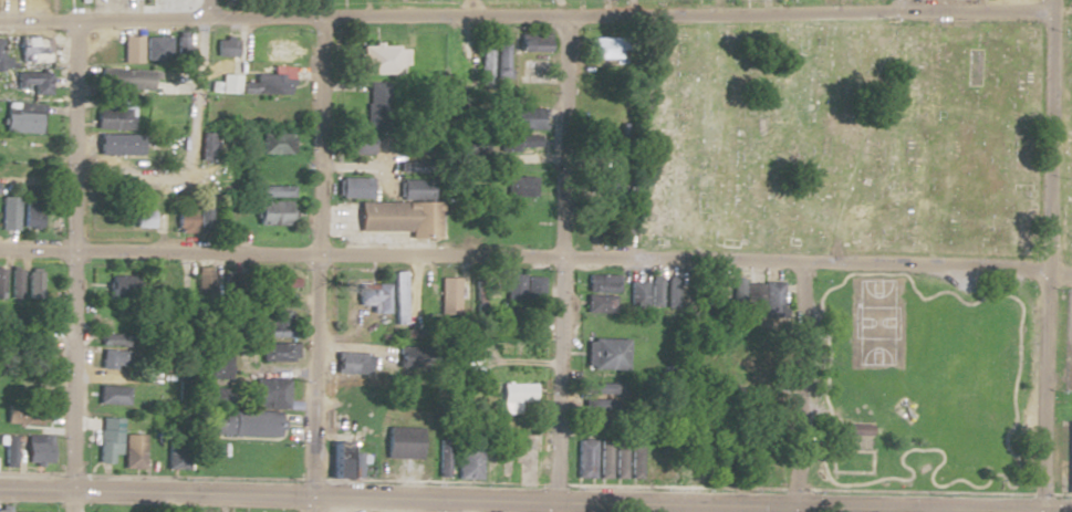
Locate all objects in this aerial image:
road: (1047, 4)
road: (896, 6)
road: (523, 15)
building: (530, 42)
building: (105, 46)
building: (225, 46)
building: (156, 49)
building: (181, 49)
building: (131, 50)
building: (32, 51)
building: (275, 52)
building: (3, 59)
building: (377, 60)
building: (499, 60)
building: (481, 64)
building: (162, 81)
building: (31, 82)
road: (191, 82)
building: (228, 84)
building: (268, 84)
building: (533, 92)
building: (378, 111)
building: (114, 116)
building: (21, 117)
building: (522, 118)
park: (858, 137)
building: (516, 142)
building: (274, 143)
building: (117, 144)
building: (354, 144)
building: (206, 146)
building: (600, 148)
road: (42, 173)
building: (274, 173)
building: (217, 181)
building: (600, 185)
building: (520, 187)
building: (353, 188)
building: (414, 189)
building: (274, 191)
building: (8, 212)
building: (270, 213)
building: (31, 215)
building: (395, 216)
building: (140, 219)
building: (183, 222)
building: (623, 227)
road: (535, 255)
road: (1044, 260)
road: (72, 263)
road: (314, 263)
road: (550, 263)
building: (1, 283)
building: (15, 283)
building: (32, 284)
building: (282, 285)
building: (451, 285)
building: (119, 288)
building: (522, 288)
building: (600, 292)
building: (654, 292)
building: (672, 293)
building: (636, 294)
building: (372, 296)
building: (398, 297)
building: (270, 323)
park: (877, 323)
road: (35, 327)
building: (112, 339)
parking lot: (1068, 339)
building: (38, 346)
building: (277, 352)
building: (605, 354)
building: (741, 357)
building: (111, 359)
building: (350, 363)
building: (214, 364)
park: (961, 377)
park: (918, 382)
road: (795, 387)
building: (600, 389)
building: (268, 393)
building: (517, 393)
building: (146, 394)
building: (111, 395)
building: (595, 404)
building: (231, 417)
building: (853, 429)
building: (106, 439)
building: (400, 442)
building: (7, 450)
building: (35, 450)
building: (1070, 452)
building: (175, 453)
building: (132, 456)
building: (441, 459)
building: (584, 459)
building: (611, 459)
building: (634, 459)
building: (336, 460)
road: (941, 461)
building: (467, 463)
building: (651, 464)
building: (694, 468)
road: (535, 503)
building: (3, 510)

